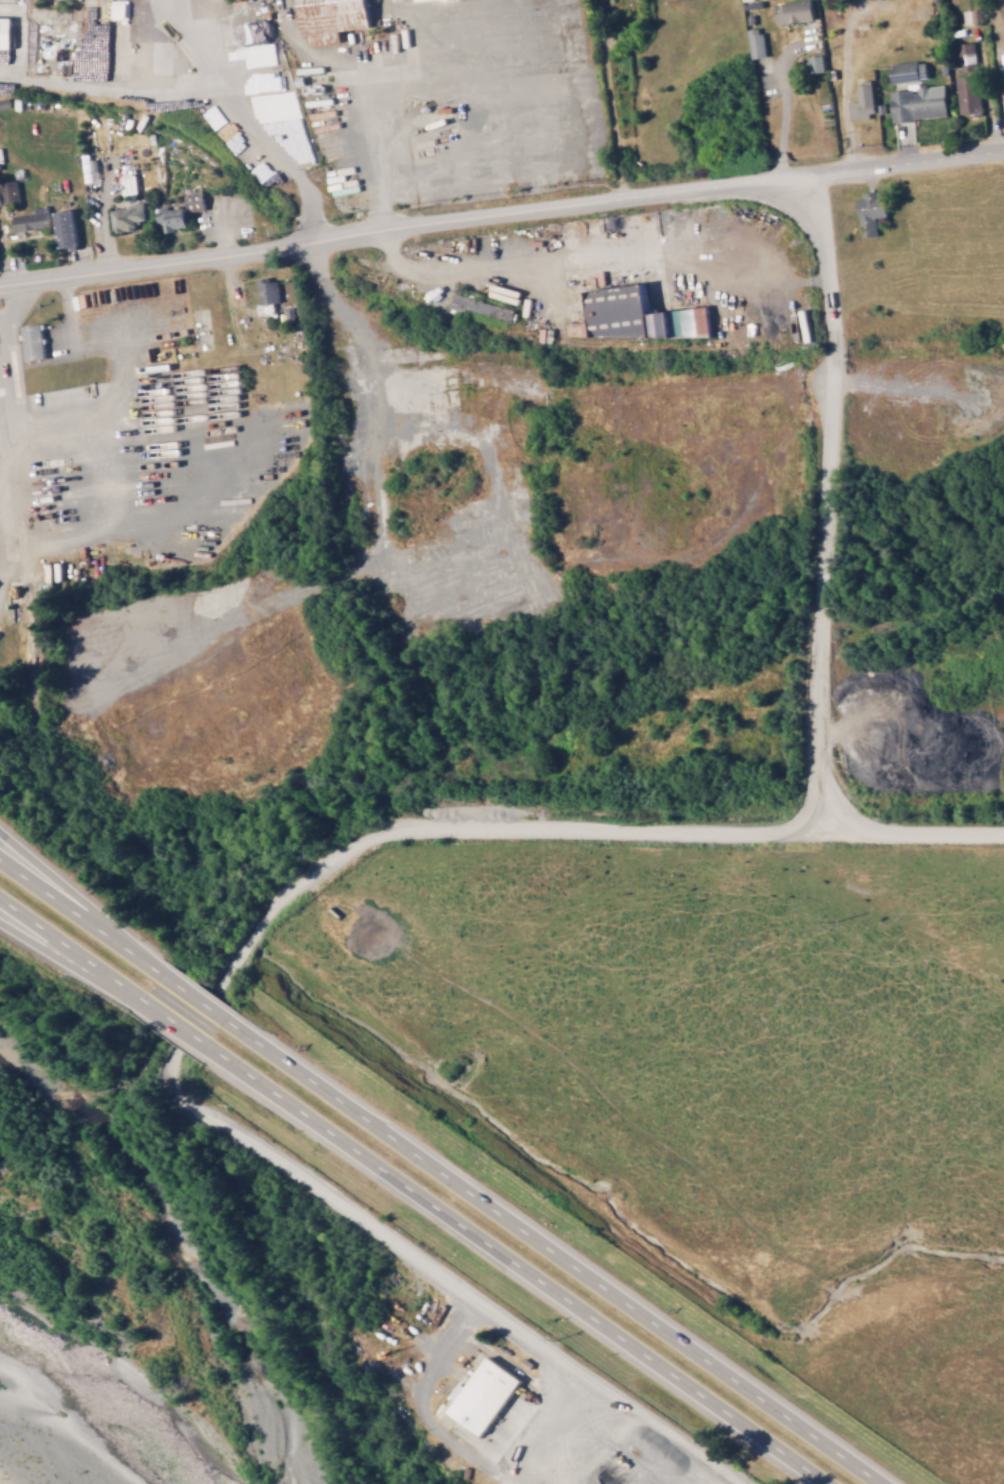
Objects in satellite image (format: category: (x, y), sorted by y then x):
building: (107, 10)
building: (794, 11)
building: (971, 16)
building: (331, 19)
building: (4, 34)
building: (757, 42)
building: (108, 44)
building: (151, 53)
building: (968, 56)
building: (249, 57)
building: (816, 63)
building: (909, 71)
building: (254, 85)
building: (969, 94)
building: (863, 101)
building: (919, 103)
building: (1, 155)
building: (0, 171)
building: (267, 172)
building: (9, 192)
building: (216, 199)
building: (235, 205)
building: (180, 212)
building: (871, 212)
road: (501, 215)
building: (128, 217)
building: (32, 220)
building: (65, 229)
building: (269, 291)
building: (483, 307)
building: (633, 316)
railway: (474, 328)
building: (33, 342)
road: (826, 554)
road: (80, 904)
road: (79, 919)
road: (71, 948)
road: (71, 961)
road: (193, 996)
road: (205, 1008)
road: (174, 1023)
road: (552, 1251)
road: (518, 1265)
building: (484, 1395)

